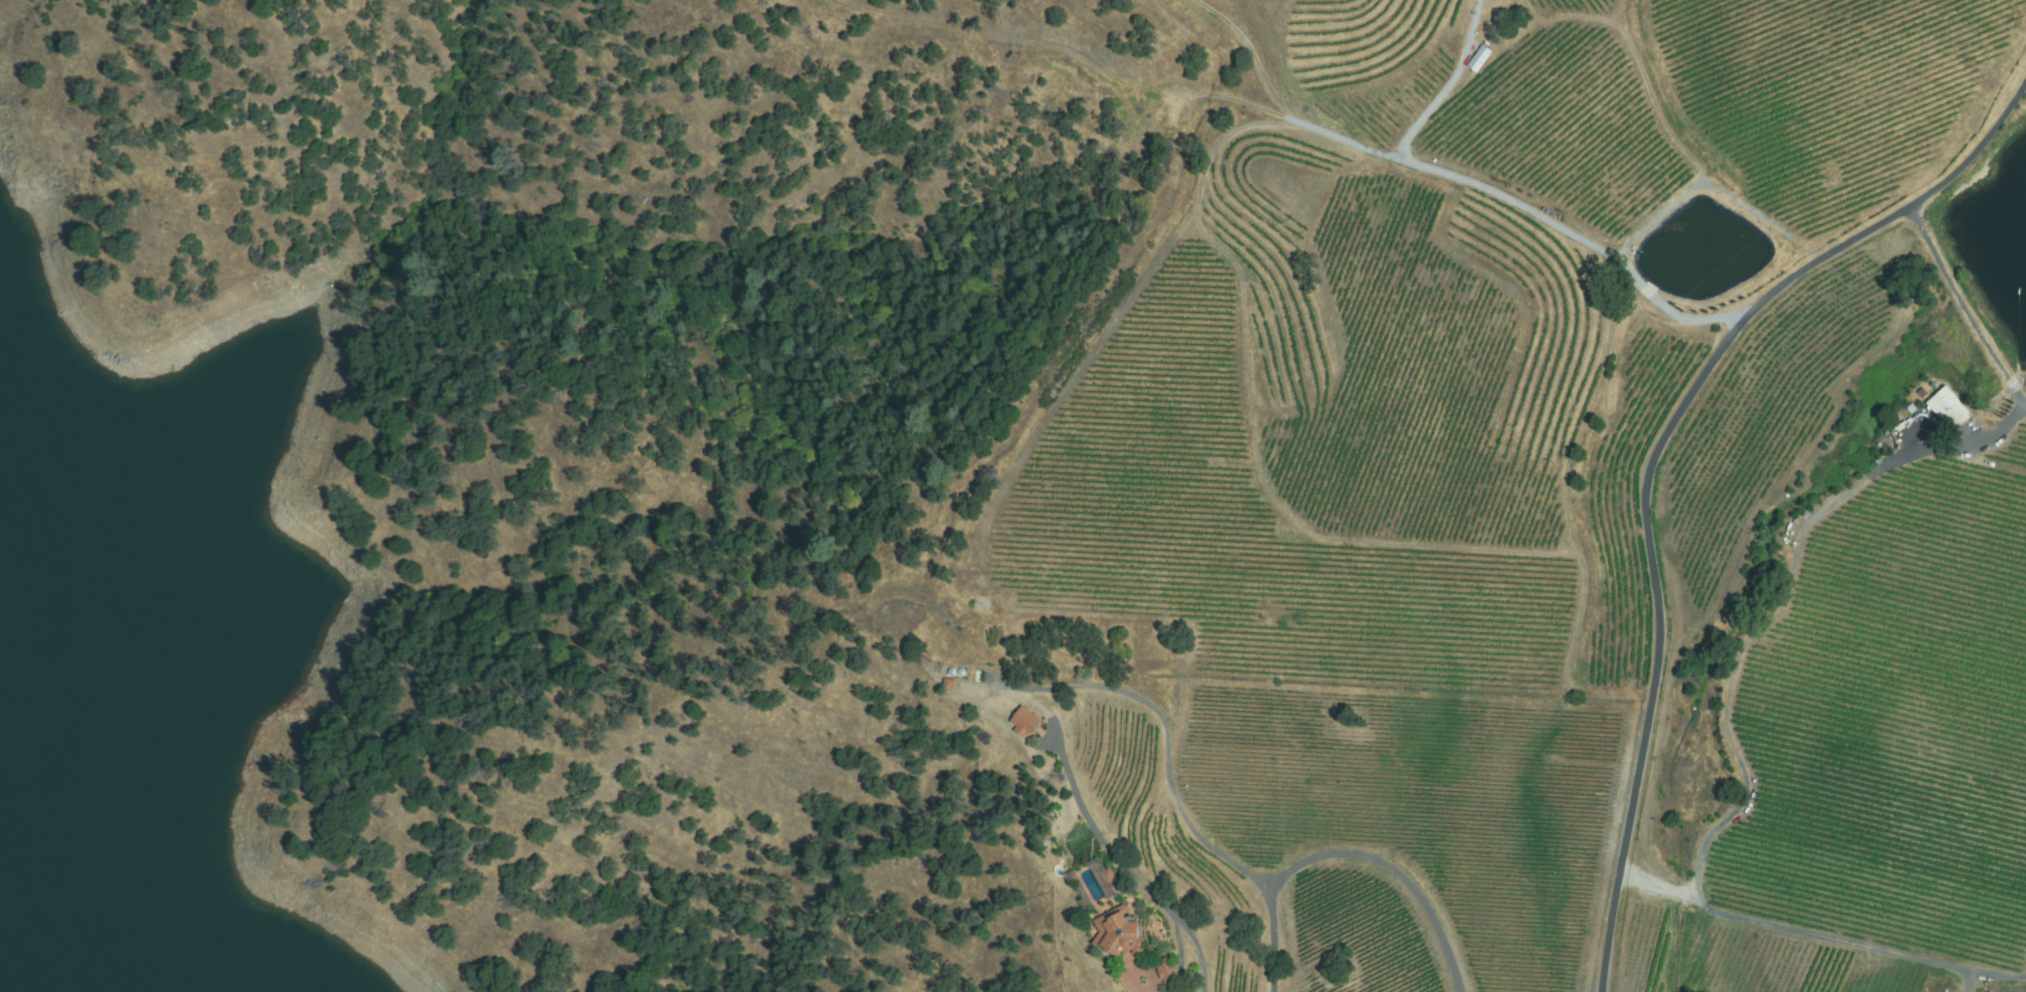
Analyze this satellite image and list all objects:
building: (1479, 59)
road: (1984, 342)
building: (1948, 408)
road: (1651, 459)
building: (952, 672)
building: (961, 673)
building: (949, 684)
building: (927, 685)
building: (1024, 721)
building: (1003, 722)
building: (1085, 880)
building: (1106, 913)
building: (1151, 971)
building: (1168, 971)

